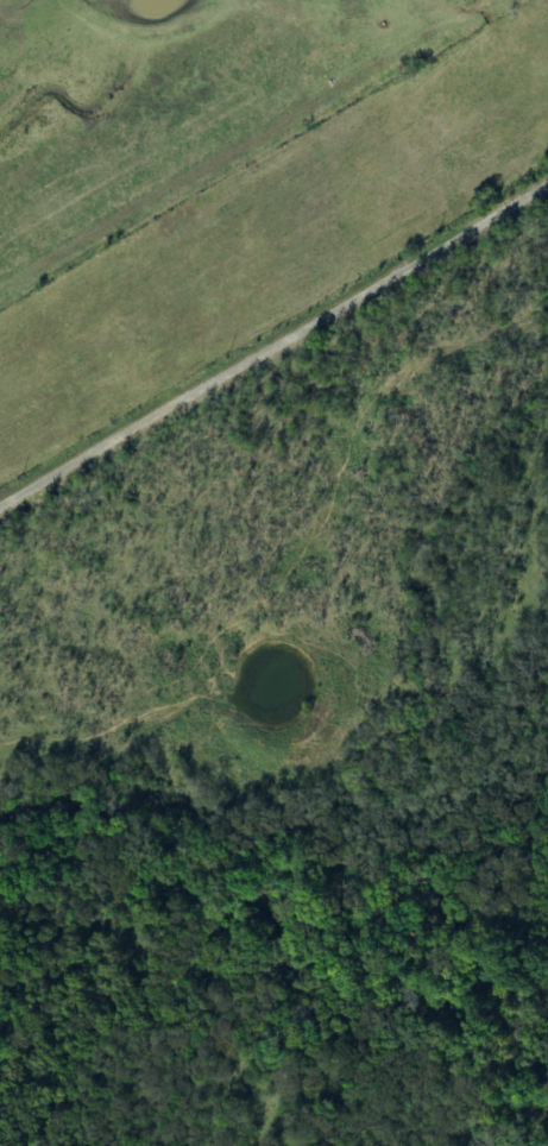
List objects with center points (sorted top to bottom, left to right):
road: (273, 377)

